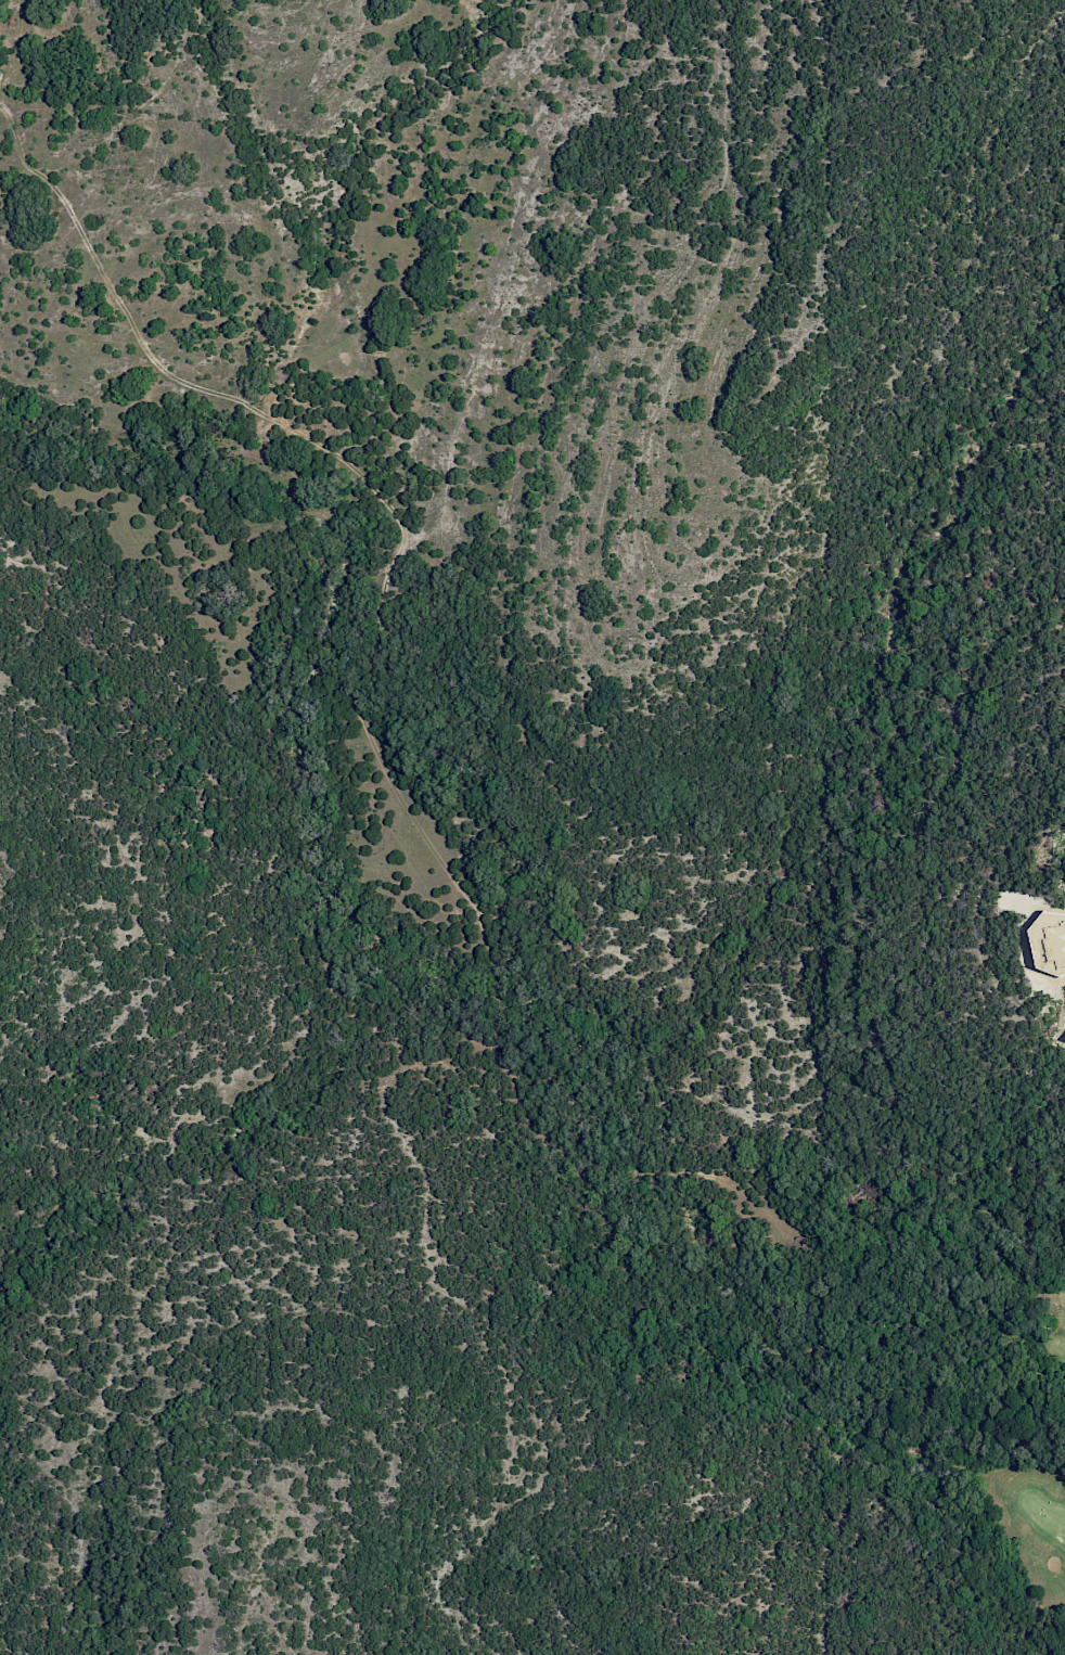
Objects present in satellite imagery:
building: (0, 70)
park: (1010, 1471)

